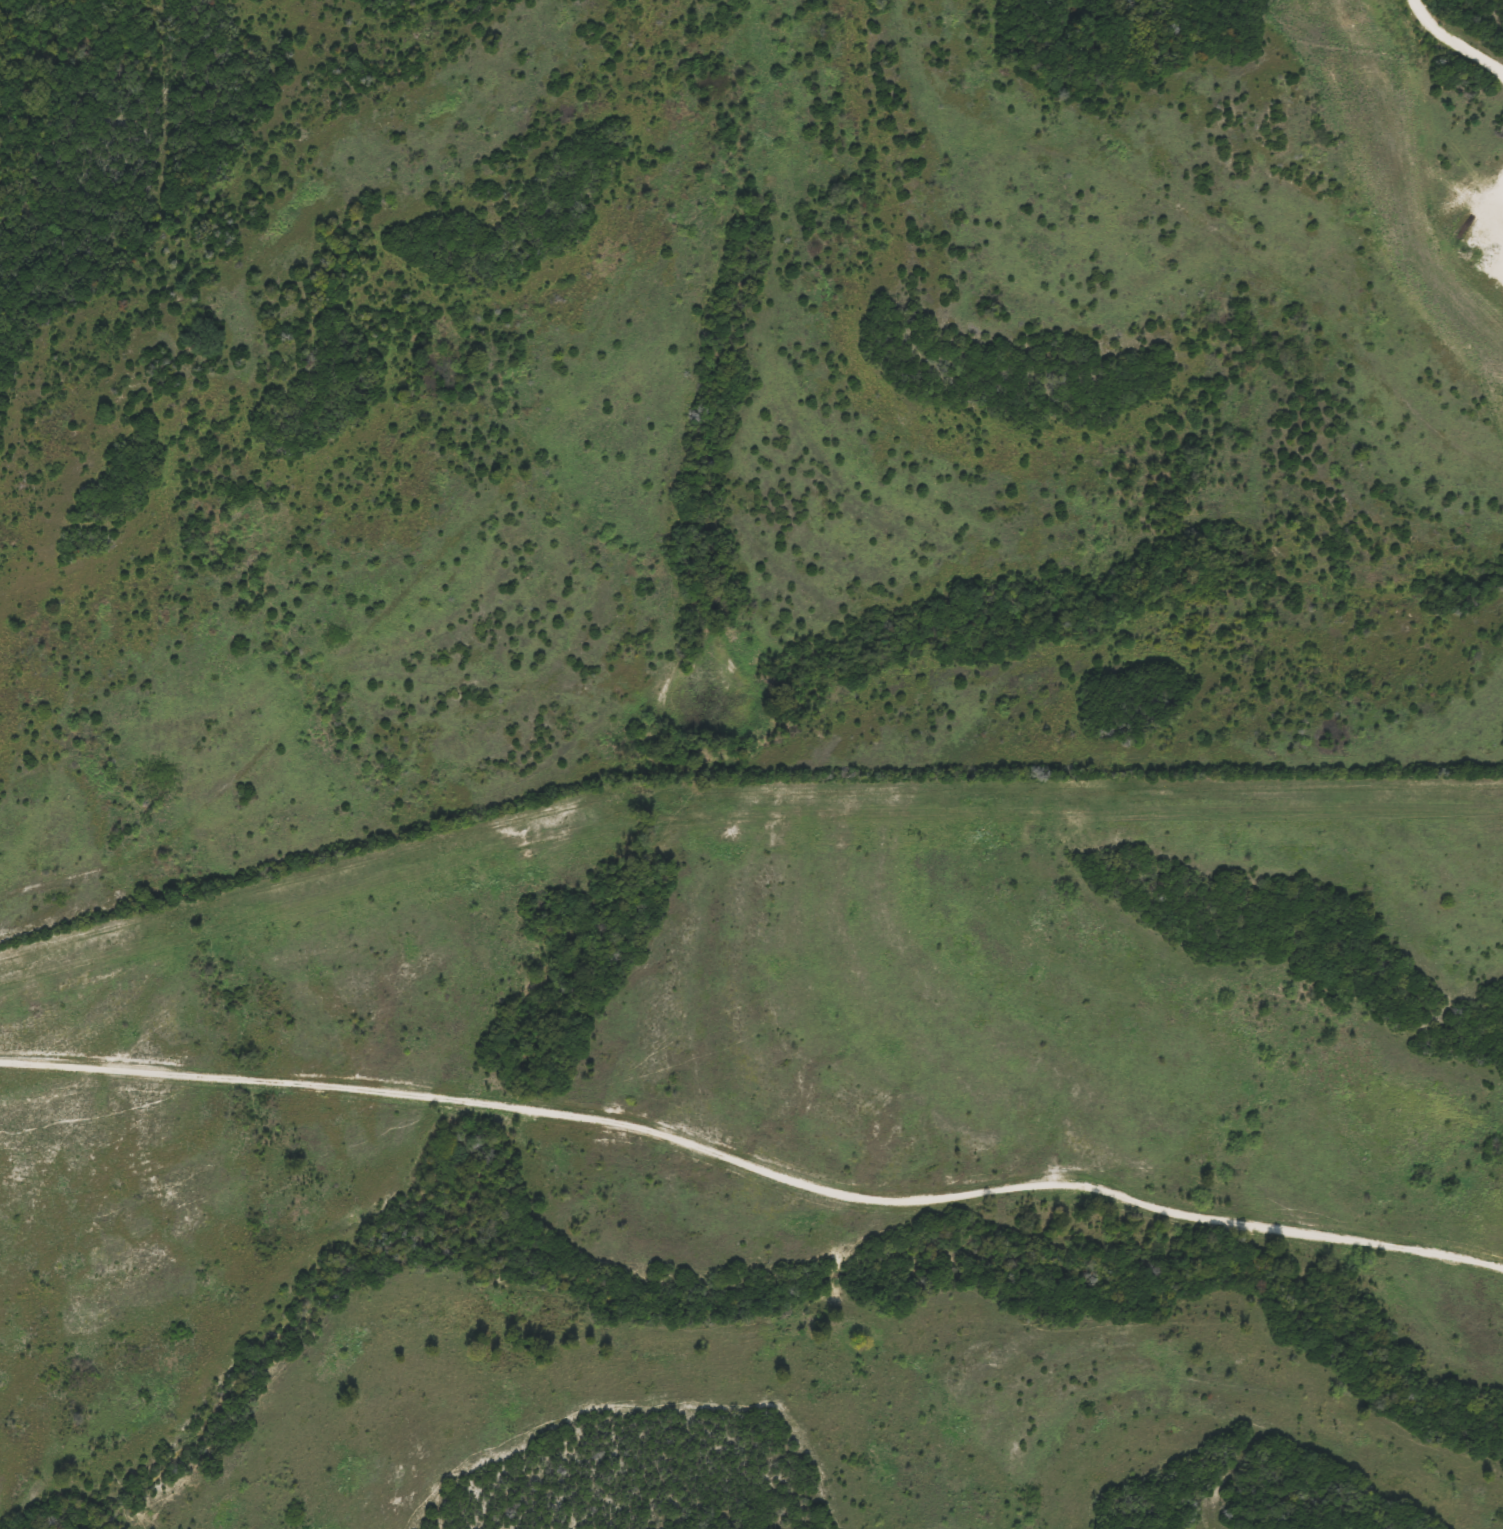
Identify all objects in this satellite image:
road: (1458, 38)
road: (753, 1163)

